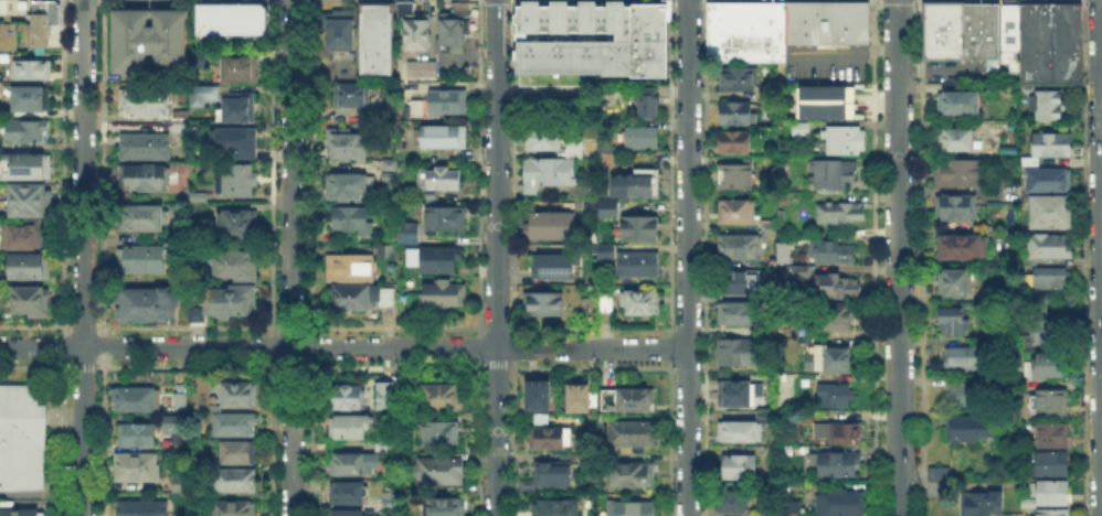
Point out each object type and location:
building: (403, 9)
building: (201, 10)
building: (230, 10)
building: (255, 10)
building: (803, 10)
building: (836, 10)
building: (51, 11)
building: (856, 11)
building: (543, 15)
building: (584, 15)
building: (612, 15)
building: (648, 15)
building: (930, 15)
building: (952, 15)
building: (455, 21)
building: (219, 22)
building: (202, 23)
building: (240, 23)
building: (35, 25)
building: (256, 26)
building: (337, 28)
road: (431, 28)
road: (1099, 29)
building: (716, 30)
building: (742, 30)
building: (771, 30)
building: (825, 30)
building: (968, 30)
building: (414, 31)
building: (986, 33)
building: (1007, 34)
building: (446, 35)
building: (374, 36)
building: (147, 37)
building: (941, 40)
building: (1048, 42)
building: (349, 54)
road: (448, 55)
road: (845, 56)
building: (587, 57)
road: (1100, 58)
building: (195, 60)
building: (29, 67)
road: (937, 67)
building: (418, 68)
building: (240, 71)
building: (737, 77)
building: (210, 94)
building: (349, 94)
road: (539, 94)
building: (35, 100)
building: (642, 100)
building: (837, 101)
building: (145, 103)
building: (448, 104)
building: (958, 105)
building: (1048, 106)
building: (242, 109)
building: (418, 110)
building: (734, 111)
building: (182, 123)
building: (803, 130)
building: (28, 133)
building: (638, 136)
building: (442, 138)
building: (544, 139)
building: (844, 141)
building: (954, 141)
building: (235, 143)
building: (734, 143)
building: (347, 146)
building: (1052, 146)
building: (571, 147)
building: (603, 147)
building: (146, 148)
building: (1030, 161)
building: (28, 169)
building: (544, 171)
building: (834, 174)
building: (961, 175)
building: (146, 179)
building: (236, 179)
building: (445, 179)
building: (735, 179)
building: (1049, 181)
building: (635, 182)
building: (347, 187)
building: (586, 187)
building: (198, 194)
building: (29, 201)
building: (587, 205)
building: (605, 206)
building: (953, 208)
building: (198, 209)
building: (737, 213)
building: (841, 213)
building: (1051, 215)
building: (144, 218)
building: (447, 219)
building: (353, 221)
building: (236, 226)
building: (549, 227)
building: (405, 230)
building: (640, 230)
building: (23, 238)
building: (422, 239)
building: (740, 248)
building: (965, 248)
building: (1051, 248)
building: (780, 251)
building: (388, 254)
building: (607, 254)
building: (833, 255)
road: (80, 257)
road: (898, 257)
road: (287, 258)
road: (496, 258)
road: (688, 258)
building: (142, 260)
building: (441, 261)
building: (234, 266)
building: (639, 267)
building: (32, 268)
building: (351, 268)
building: (554, 268)
building: (798, 270)
building: (1053, 280)
building: (957, 282)
building: (742, 283)
building: (839, 287)
road: (1099, 287)
building: (442, 294)
building: (992, 295)
building: (353, 299)
building: (395, 300)
building: (230, 301)
building: (1045, 301)
building: (605, 302)
building: (32, 303)
building: (644, 303)
building: (148, 307)
building: (542, 307)
building: (740, 315)
building: (833, 318)
building: (955, 321)
building: (1048, 333)
road: (343, 346)
building: (740, 353)
building: (828, 359)
building: (968, 361)
building: (1050, 367)
building: (212, 393)
building: (444, 394)
building: (741, 395)
building: (239, 396)
building: (540, 396)
building: (967, 396)
building: (834, 397)
building: (349, 399)
building: (139, 400)
building: (580, 400)
building: (634, 400)
building: (181, 402)
building: (388, 404)
building: (1050, 405)
building: (171, 423)
building: (234, 426)
building: (349, 428)
building: (746, 429)
building: (974, 430)
building: (442, 434)
building: (846, 434)
building: (632, 436)
building: (1053, 436)
building: (20, 437)
building: (137, 438)
building: (551, 440)
building: (388, 448)
building: (236, 453)
building: (406, 462)
building: (1053, 464)
building: (347, 465)
building: (840, 466)
building: (137, 469)
building: (738, 469)
building: (441, 472)
building: (553, 475)
building: (633, 475)
building: (940, 476)
building: (237, 481)
building: (179, 485)
building: (1052, 493)
building: (349, 495)
building: (388, 502)
building: (733, 503)
building: (978, 503)
building: (843, 504)
building: (144, 508)
building: (235, 508)
building: (447, 508)
building: (558, 508)
building: (633, 509)
building: (21, 513)
building: (1053, 514)
building: (354, 515)
building: (763, 515)

